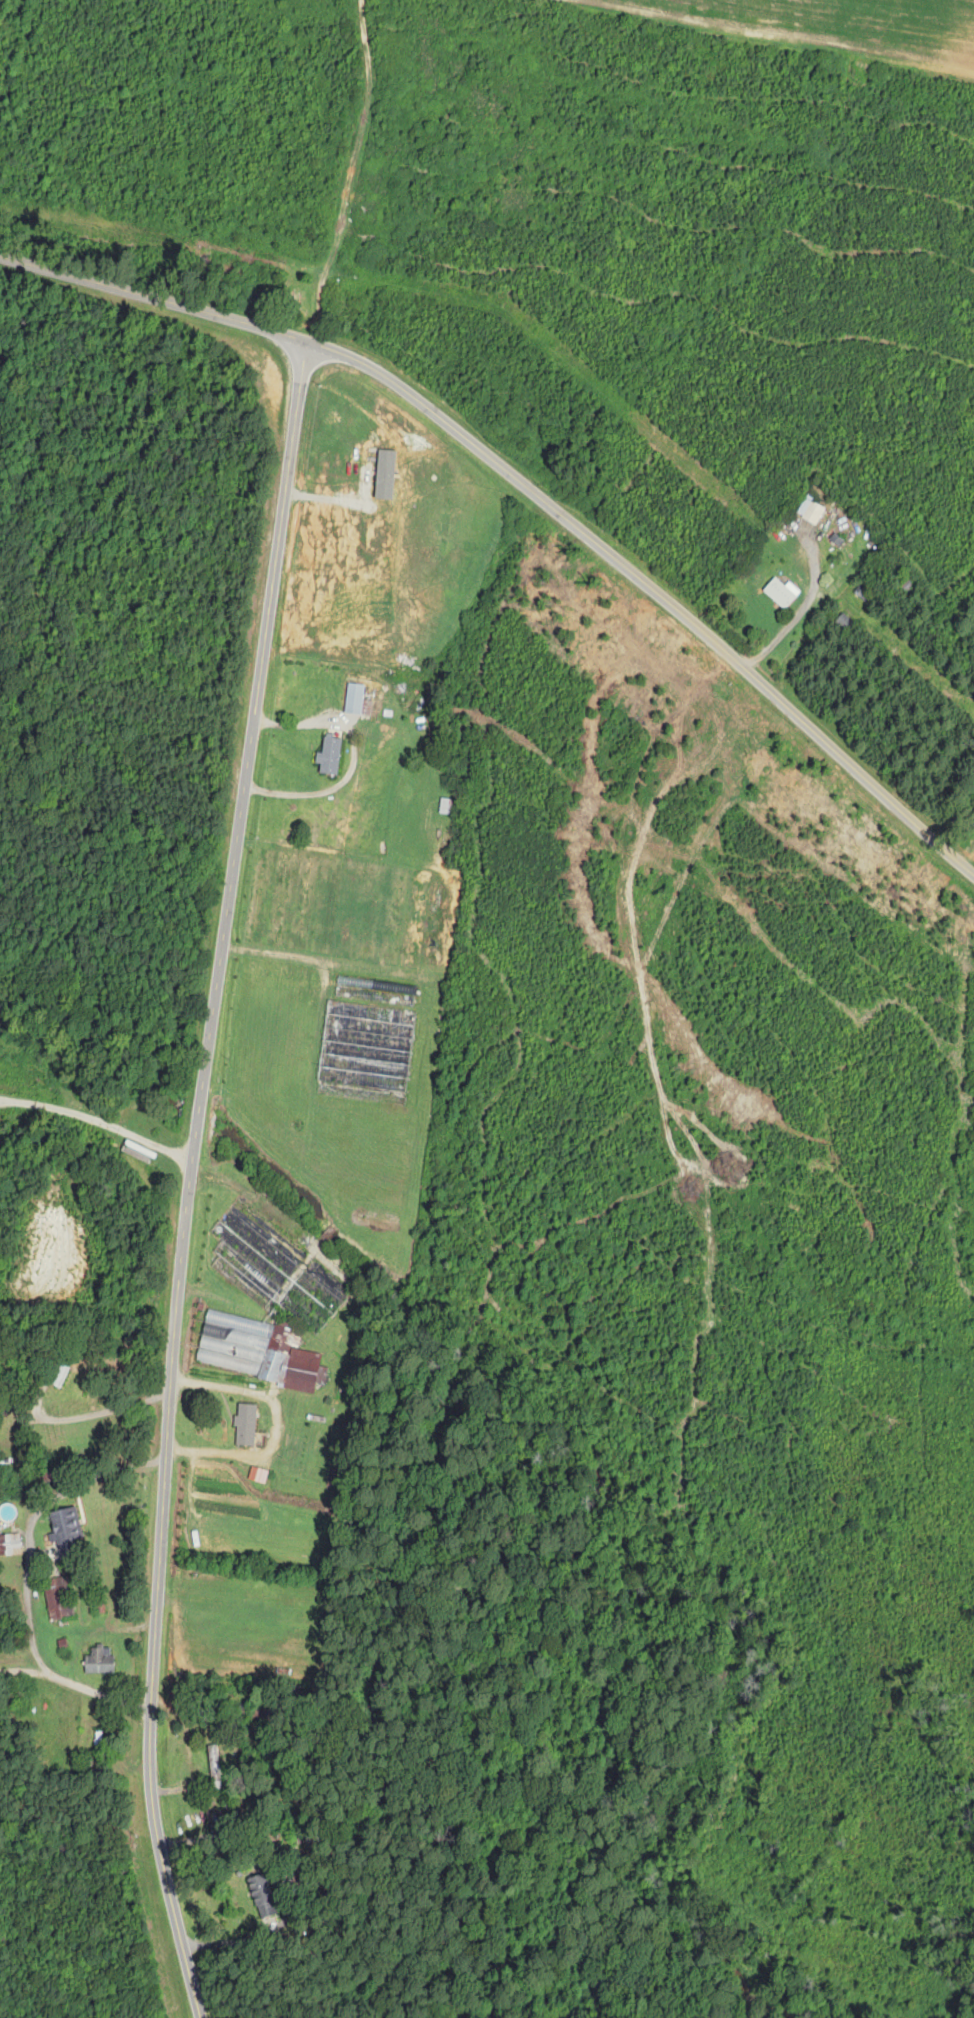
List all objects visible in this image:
road: (154, 310)
building: (810, 509)
road: (654, 591)
building: (782, 591)
road: (794, 619)
building: (355, 698)
building: (330, 754)
road: (353, 759)
road: (969, 859)
road: (1, 1098)
road: (1, 1099)
road: (98, 1121)
road: (188, 1180)
building: (257, 1349)
road: (102, 1412)
building: (246, 1423)
road: (276, 1424)
building: (258, 1473)
building: (66, 1529)
building: (10, 1543)
road: (27, 1592)
building: (59, 1597)
building: (100, 1660)
road: (76, 1684)
building: (263, 1895)

